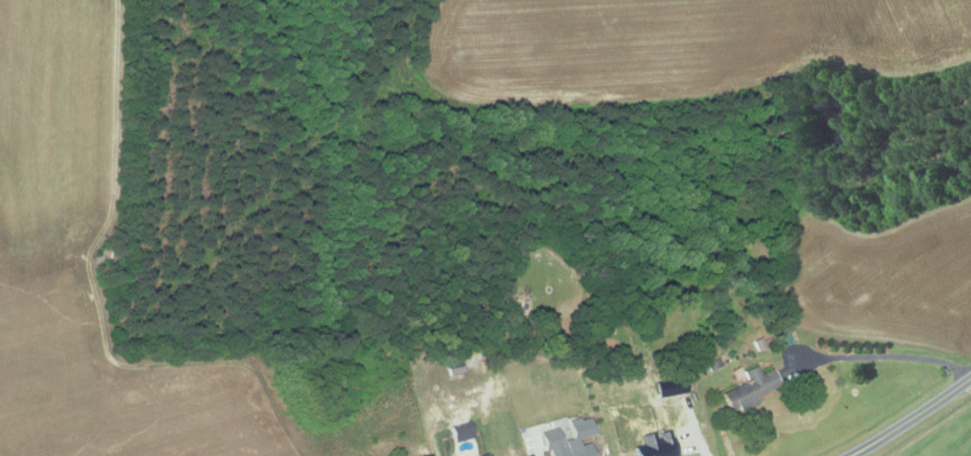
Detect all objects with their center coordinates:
building: (783, 338)
road: (893, 356)
building: (748, 389)
road: (910, 418)
building: (567, 438)
road: (537, 454)

